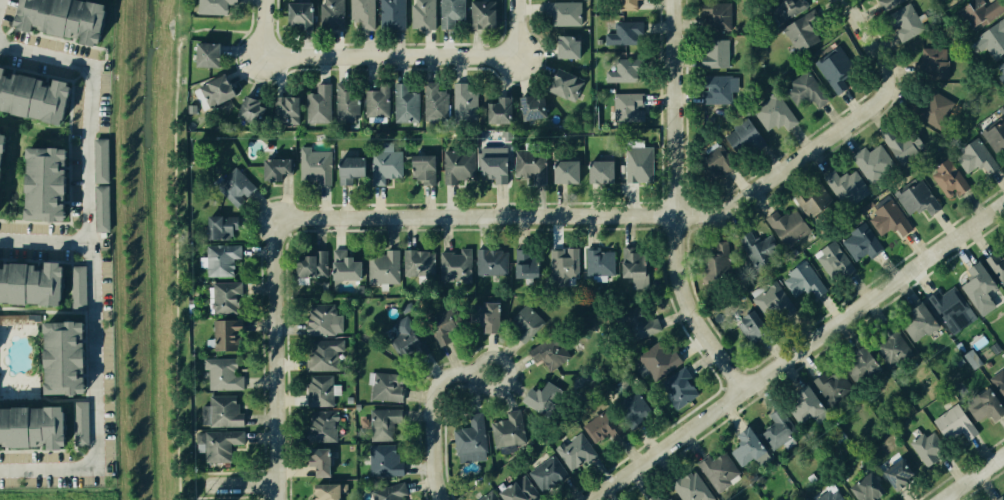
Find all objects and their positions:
building: (888, 3)
building: (621, 5)
building: (211, 6)
building: (784, 10)
building: (448, 12)
building: (560, 12)
building: (360, 13)
building: (978, 13)
building: (299, 14)
building: (391, 14)
building: (479, 14)
building: (330, 15)
building: (421, 15)
building: (61, 17)
building: (712, 17)
building: (906, 22)
road: (262, 28)
road: (514, 28)
road: (211, 29)
building: (622, 33)
building: (802, 36)
building: (995, 38)
building: (565, 48)
building: (713, 53)
building: (207, 54)
road: (388, 57)
building: (935, 63)
building: (1001, 67)
building: (831, 70)
building: (625, 71)
building: (562, 86)
building: (213, 88)
building: (802, 88)
building: (711, 90)
building: (32, 96)
building: (433, 98)
building: (375, 100)
building: (463, 102)
building: (343, 103)
building: (532, 103)
building: (403, 104)
building: (317, 105)
building: (628, 107)
road: (87, 109)
building: (250, 109)
building: (284, 109)
building: (772, 109)
building: (495, 110)
building: (936, 110)
building: (995, 135)
building: (745, 139)
building: (1, 140)
building: (904, 144)
building: (977, 157)
building: (100, 159)
building: (493, 160)
building: (711, 161)
building: (314, 163)
building: (873, 163)
building: (460, 164)
building: (636, 164)
building: (384, 167)
building: (421, 167)
building: (269, 168)
building: (349, 168)
building: (597, 169)
building: (531, 170)
building: (565, 170)
building: (950, 179)
building: (43, 182)
building: (232, 185)
building: (846, 187)
building: (917, 197)
building: (815, 203)
road: (680, 205)
building: (101, 207)
road: (656, 215)
building: (889, 217)
building: (218, 225)
building: (787, 226)
road: (43, 239)
building: (862, 243)
building: (761, 250)
road: (176, 257)
building: (418, 259)
building: (219, 260)
building: (835, 260)
building: (490, 261)
building: (997, 261)
building: (308, 263)
building: (456, 263)
building: (524, 263)
building: (561, 263)
building: (599, 263)
building: (634, 263)
building: (716, 264)
building: (342, 269)
building: (381, 271)
building: (27, 280)
building: (804, 281)
building: (75, 287)
building: (979, 287)
building: (222, 297)
building: (773, 301)
building: (950, 309)
building: (481, 314)
building: (321, 318)
building: (526, 321)
building: (640, 323)
building: (922, 323)
building: (437, 325)
building: (753, 327)
building: (223, 334)
building: (406, 340)
building: (892, 347)
building: (995, 348)
road: (91, 354)
building: (317, 354)
building: (548, 354)
building: (57, 355)
road: (799, 355)
road: (283, 358)
building: (972, 359)
building: (959, 361)
building: (659, 362)
building: (862, 365)
building: (219, 373)
building: (998, 379)
building: (675, 386)
building: (835, 388)
building: (386, 389)
building: (318, 390)
building: (350, 399)
building: (535, 399)
building: (632, 405)
building: (357, 406)
building: (808, 406)
road: (438, 407)
building: (986, 407)
building: (223, 408)
building: (954, 423)
building: (78, 424)
building: (380, 424)
building: (603, 424)
building: (27, 425)
building: (320, 426)
building: (778, 430)
building: (509, 431)
building: (468, 438)
building: (214, 445)
building: (749, 447)
building: (926, 449)
building: (573, 451)
building: (320, 461)
building: (382, 462)
road: (46, 468)
building: (544, 471)
building: (718, 471)
road: (219, 473)
building: (891, 473)
road: (970, 476)
building: (859, 484)
road: (246, 485)
road: (179, 486)
building: (690, 486)
building: (513, 490)
building: (328, 491)
building: (390, 492)
building: (828, 496)
building: (999, 496)
building: (487, 497)
building: (654, 497)
road: (220, 498)
building: (666, 498)
road: (179, 499)

